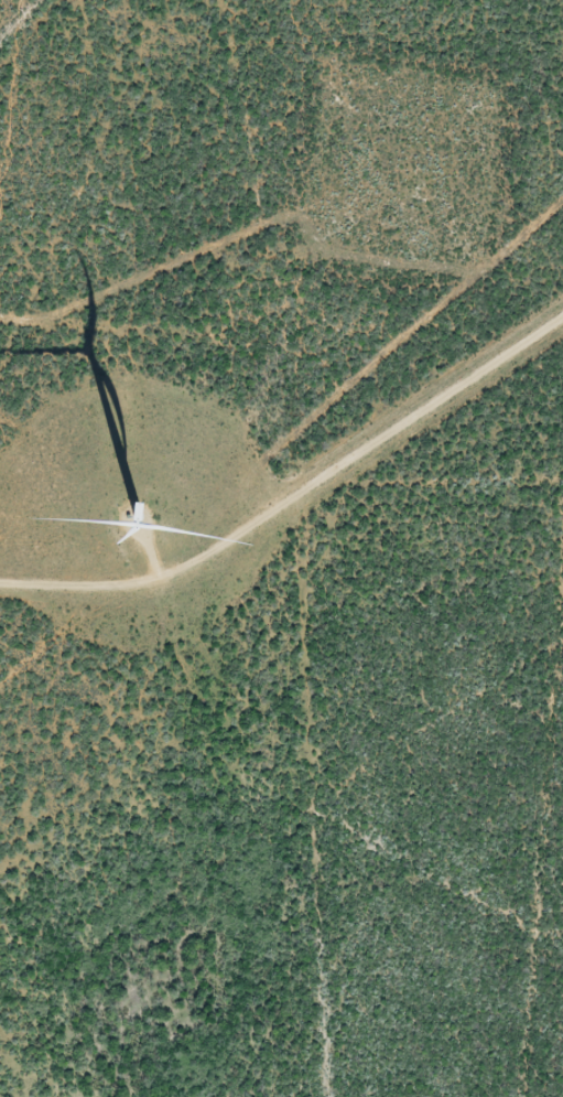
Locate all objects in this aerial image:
road: (93, 83)
wind turbine: (129, 521)

